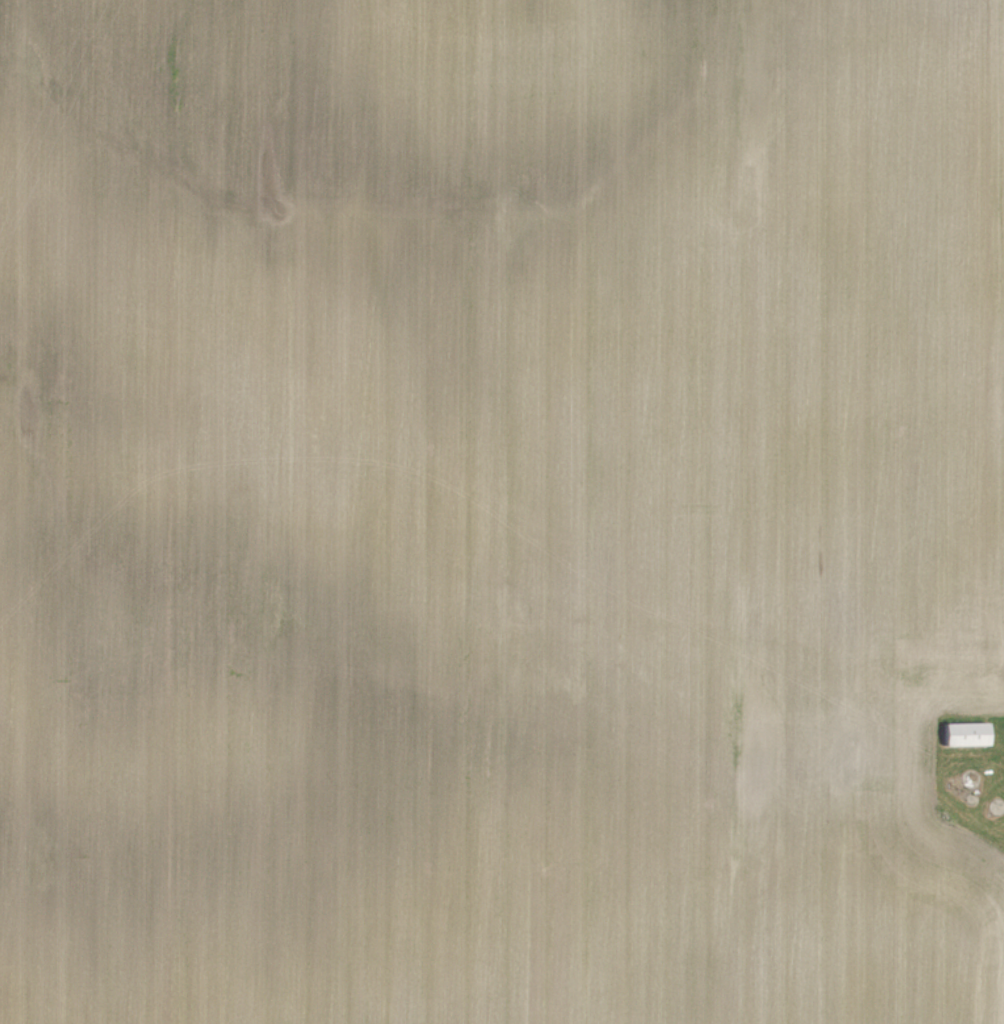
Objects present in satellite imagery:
building: (964, 735)

